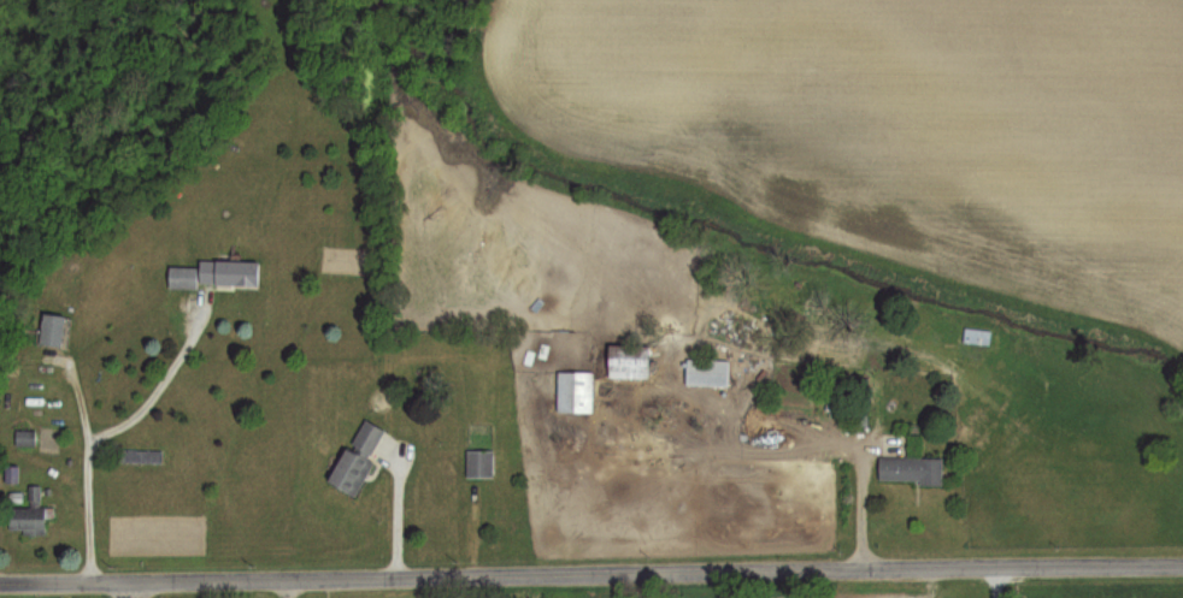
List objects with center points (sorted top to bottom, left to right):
building: (214, 273)
building: (52, 330)
building: (628, 361)
building: (706, 372)
road: (157, 378)
road: (684, 391)
building: (575, 392)
building: (25, 438)
building: (357, 458)
building: (478, 463)
road: (854, 463)
building: (910, 469)
road: (389, 501)
road: (83, 508)
building: (28, 515)
road: (787, 570)
road: (195, 580)
road: (999, 582)
road: (117, 590)

